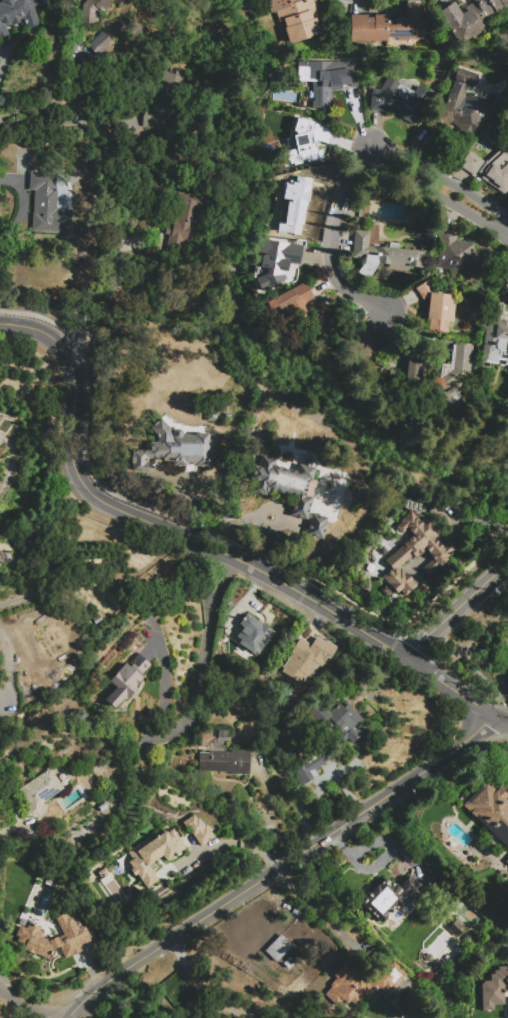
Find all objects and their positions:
building: (95, 8)
building: (17, 13)
building: (468, 15)
building: (296, 20)
building: (389, 25)
building: (98, 40)
road: (3, 56)
building: (324, 79)
building: (399, 99)
building: (463, 106)
building: (507, 109)
building: (159, 112)
road: (65, 121)
building: (302, 141)
road: (382, 149)
building: (489, 169)
road: (453, 181)
road: (451, 197)
building: (293, 204)
building: (48, 205)
building: (184, 218)
road: (506, 231)
road: (331, 233)
building: (382, 254)
building: (459, 254)
building: (277, 260)
road: (96, 297)
building: (293, 297)
building: (436, 305)
building: (496, 339)
building: (362, 347)
building: (410, 366)
building: (456, 372)
building: (212, 413)
building: (178, 448)
building: (285, 482)
building: (350, 496)
road: (147, 521)
building: (317, 526)
building: (416, 551)
road: (455, 607)
building: (253, 634)
building: (227, 637)
building: (299, 645)
road: (470, 649)
building: (321, 650)
road: (504, 650)
road: (439, 652)
building: (279, 670)
building: (126, 680)
road: (456, 687)
road: (497, 689)
road: (193, 700)
building: (346, 721)
building: (225, 762)
building: (310, 767)
building: (41, 792)
building: (103, 806)
building: (491, 810)
building: (198, 829)
road: (232, 842)
building: (153, 855)
building: (507, 860)
road: (277, 866)
building: (390, 897)
road: (319, 914)
building: (455, 926)
building: (76, 933)
building: (277, 947)
road: (204, 983)
building: (379, 986)
building: (494, 988)
road: (27, 1004)
building: (257, 1007)
road: (85, 1008)

